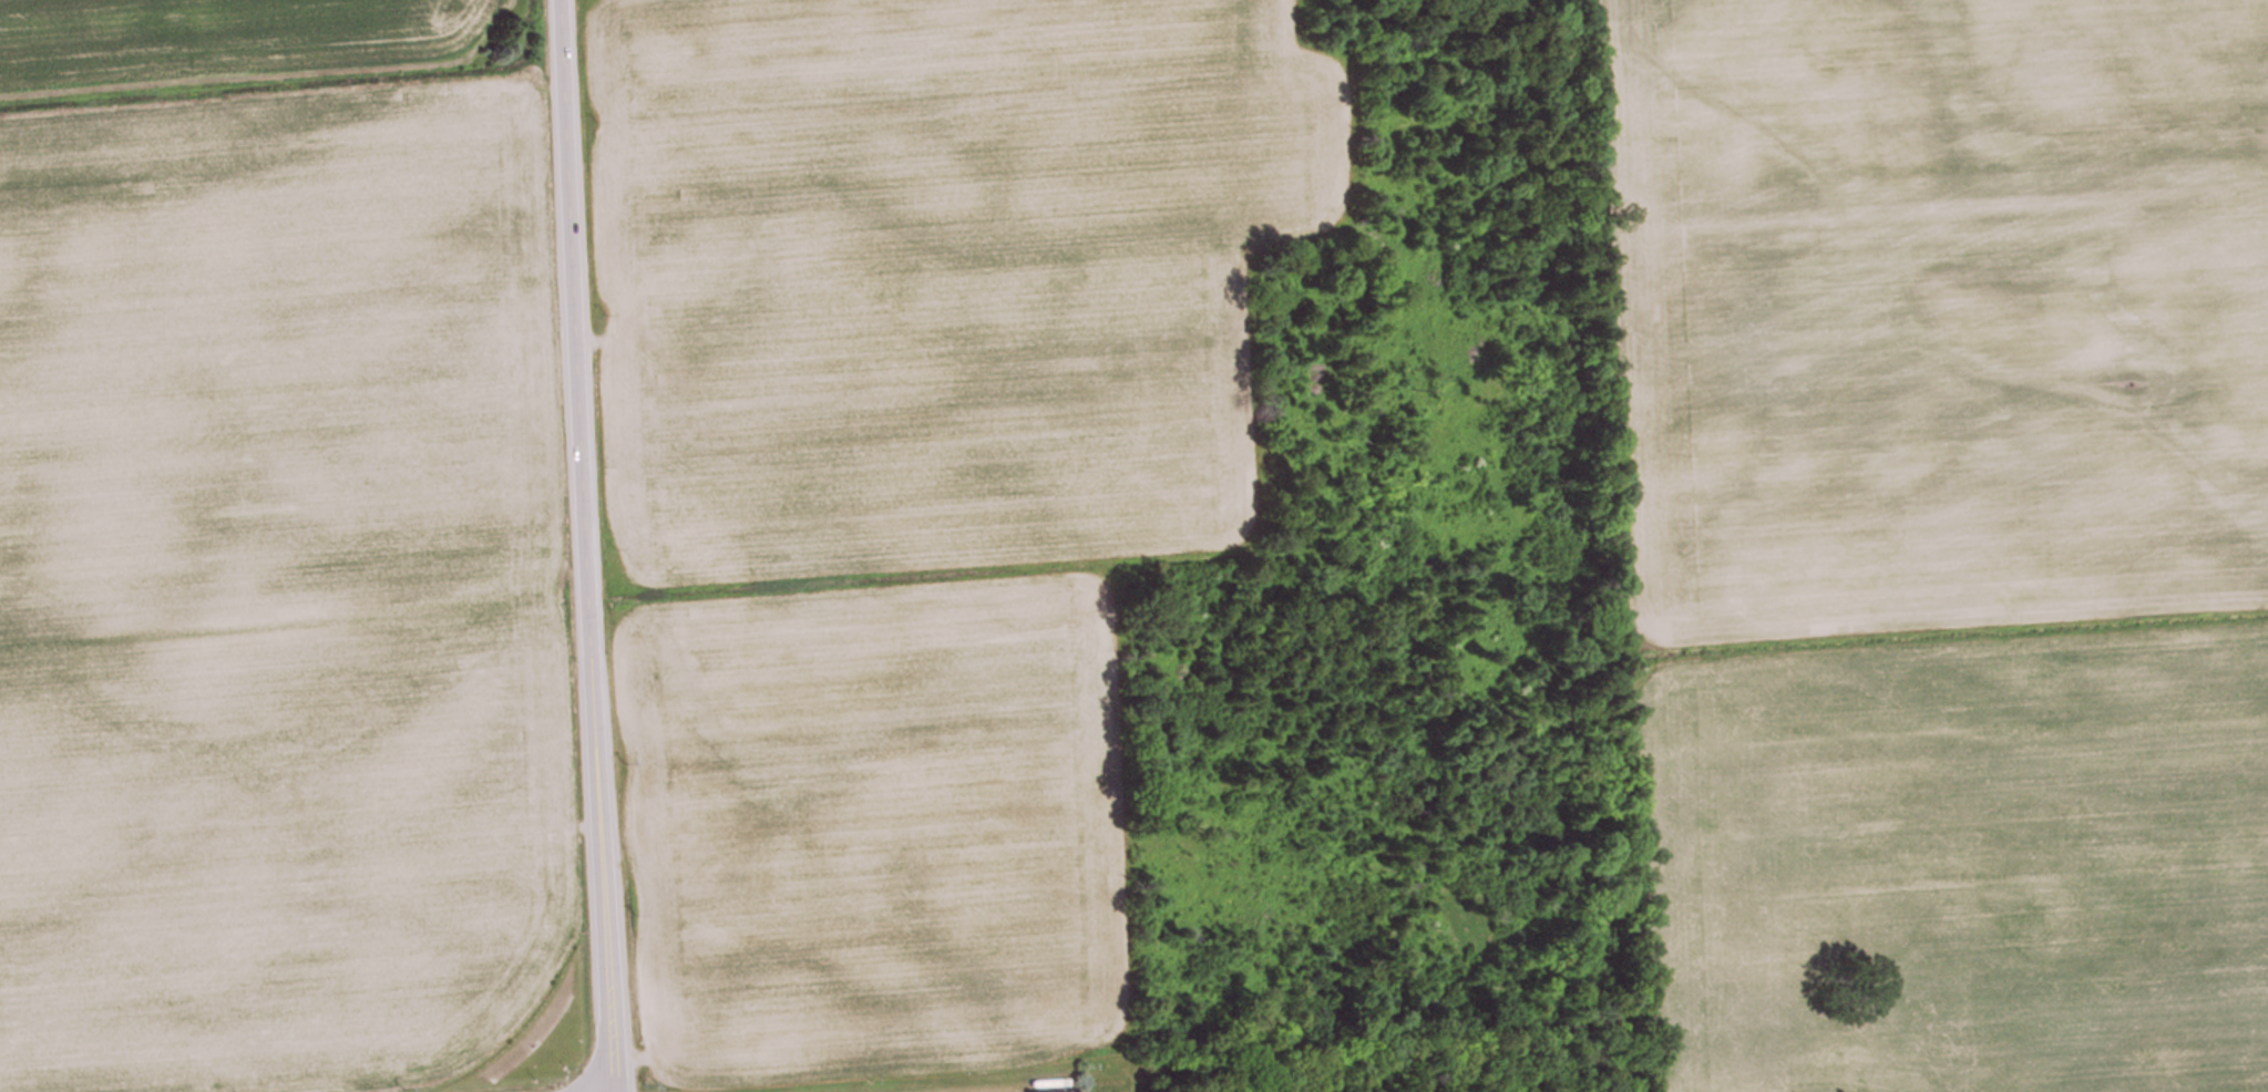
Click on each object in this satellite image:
road: (581, 545)
road: (879, 1088)
building: (1059, 1091)

